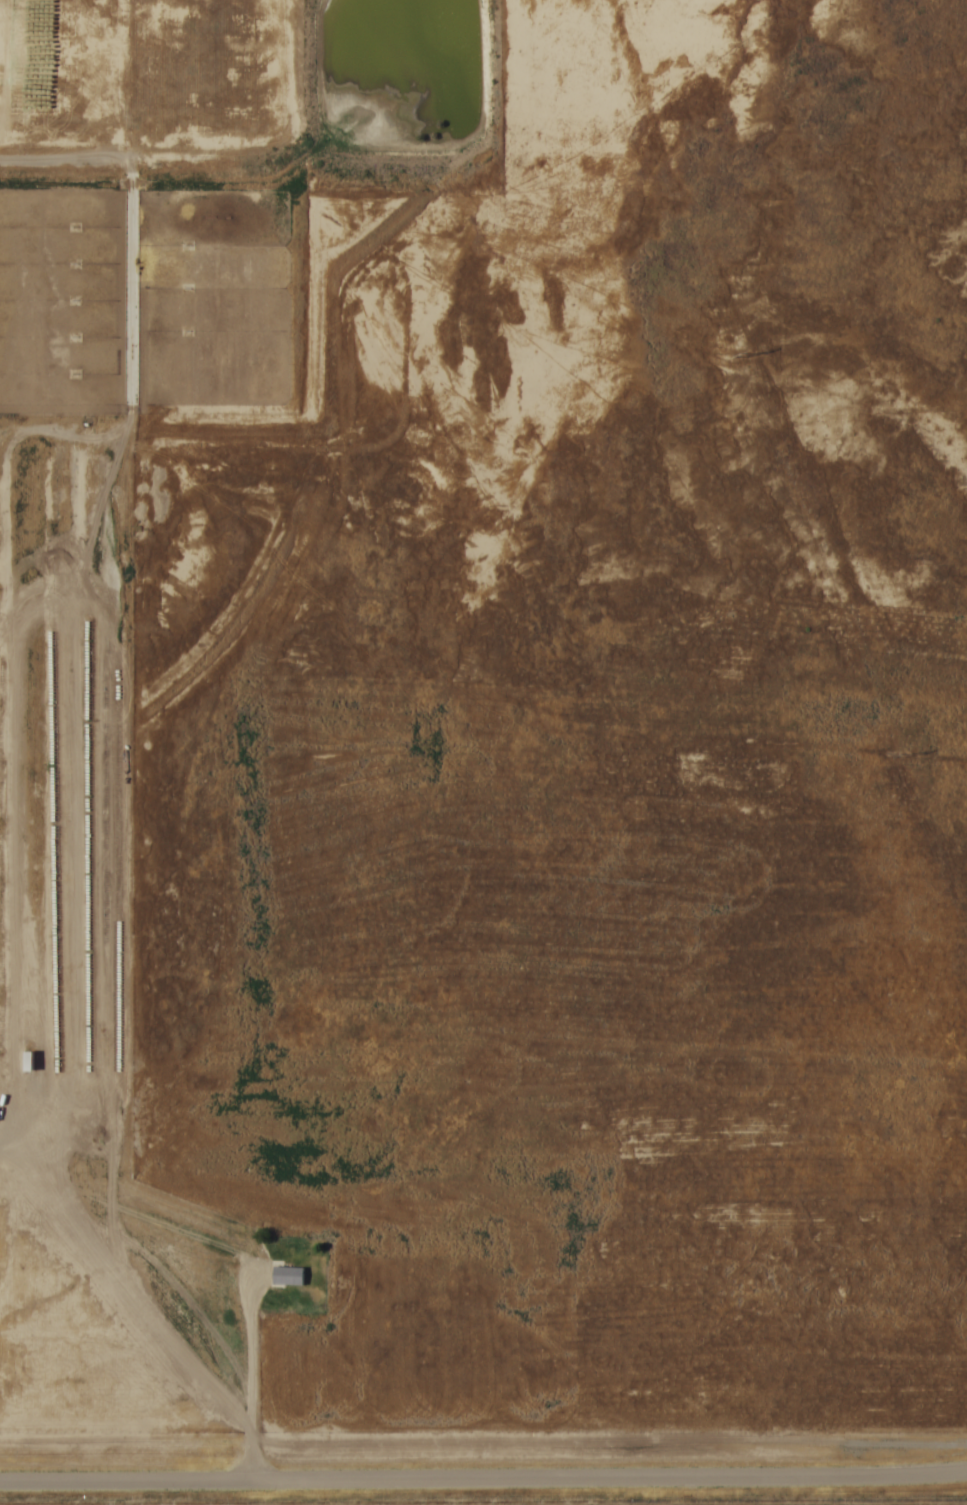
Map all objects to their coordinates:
power tower: (747, 353)
power tower: (907, 754)
building: (286, 1274)
road: (483, 1479)

